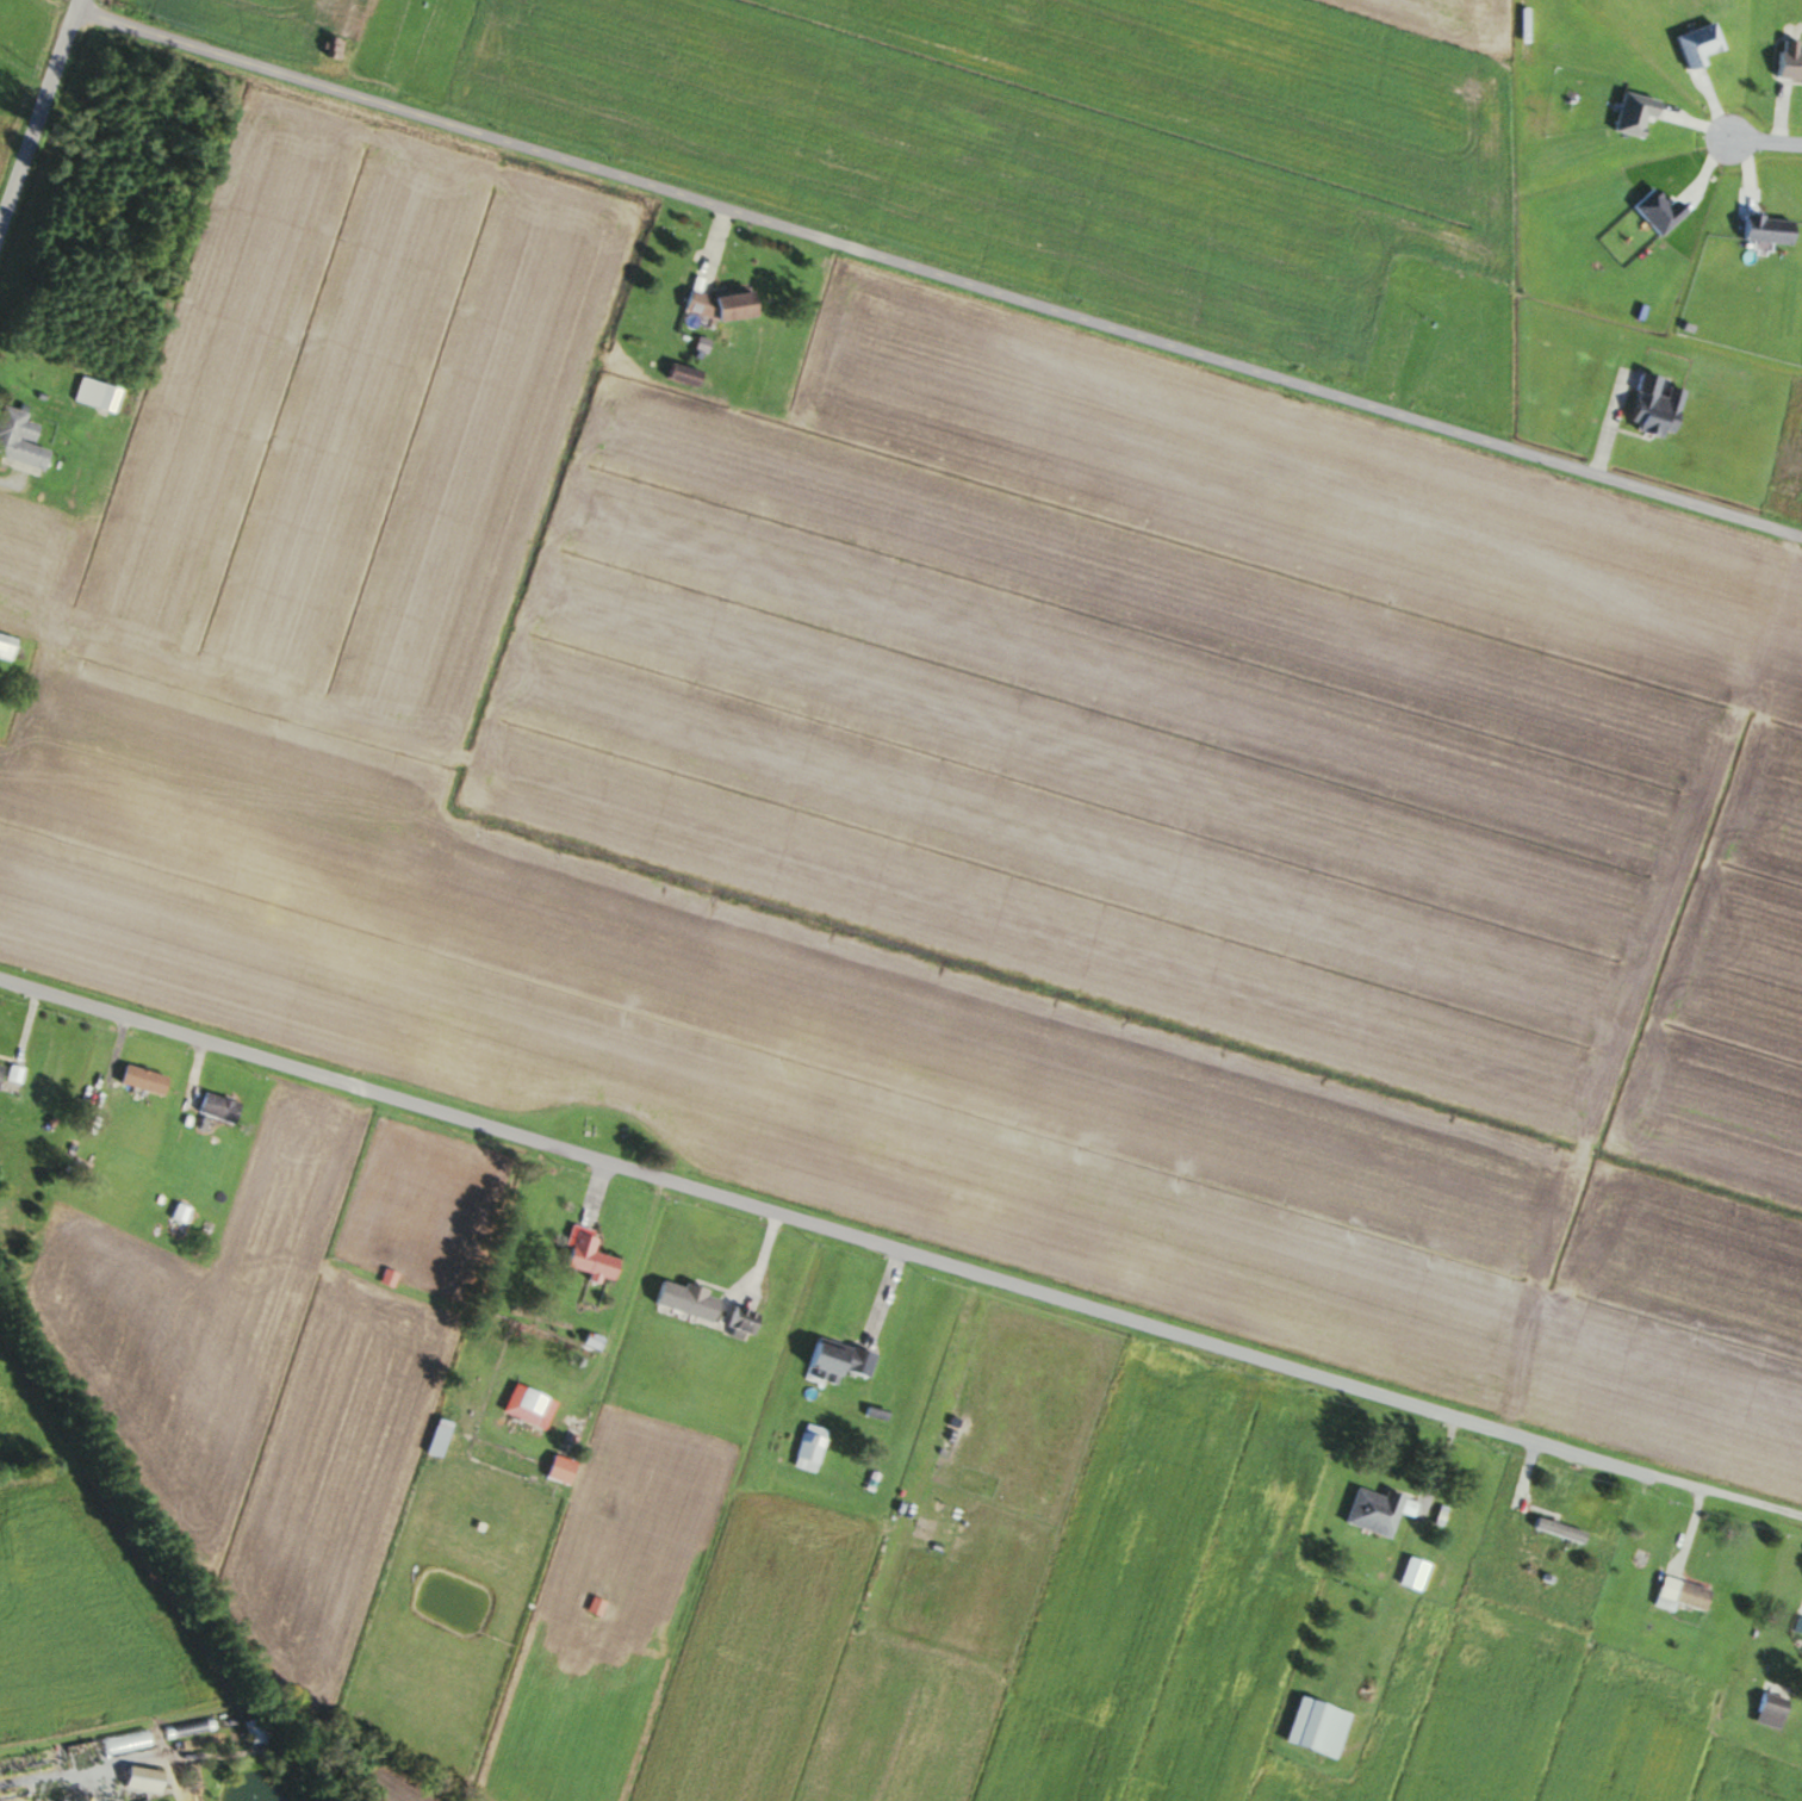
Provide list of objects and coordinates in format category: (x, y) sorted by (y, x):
building: (1785, 60)
road: (50, 128)
road: (1763, 144)
building: (1763, 228)
road: (938, 280)
building: (716, 303)
building: (678, 374)
building: (91, 395)
building: (1648, 406)
building: (18, 441)
building: (4, 646)
building: (138, 1080)
building: (213, 1107)
road: (837, 1232)
building: (585, 1259)
building: (679, 1300)
building: (733, 1323)
building: (831, 1360)
building: (528, 1403)
building: (433, 1437)
building: (806, 1448)
building: (558, 1465)
road: (1739, 1501)
building: (1369, 1511)
building: (1554, 1530)
building: (1409, 1573)
building: (1677, 1595)
building: (1765, 1709)
building: (1312, 1727)
building: (187, 1728)

